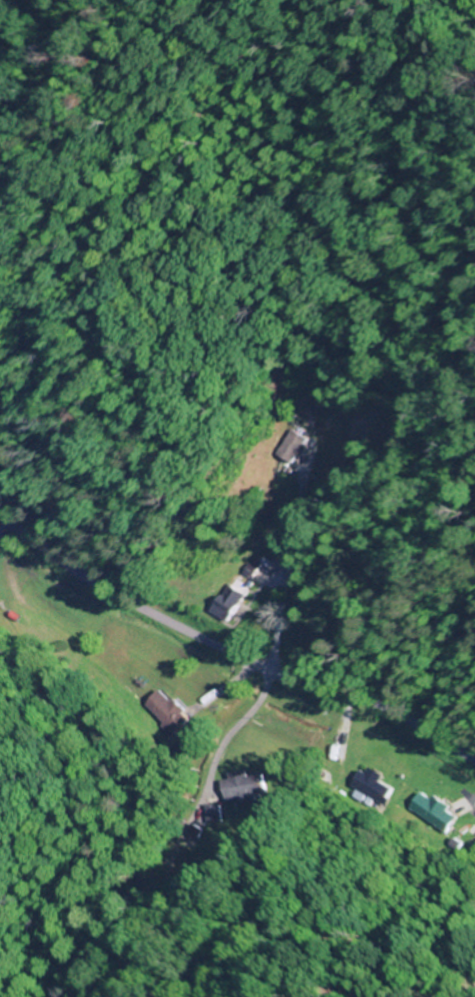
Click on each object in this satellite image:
building: (287, 447)
building: (226, 604)
road: (231, 659)
building: (165, 710)
building: (242, 787)
building: (370, 790)
building: (445, 813)
building: (472, 831)

